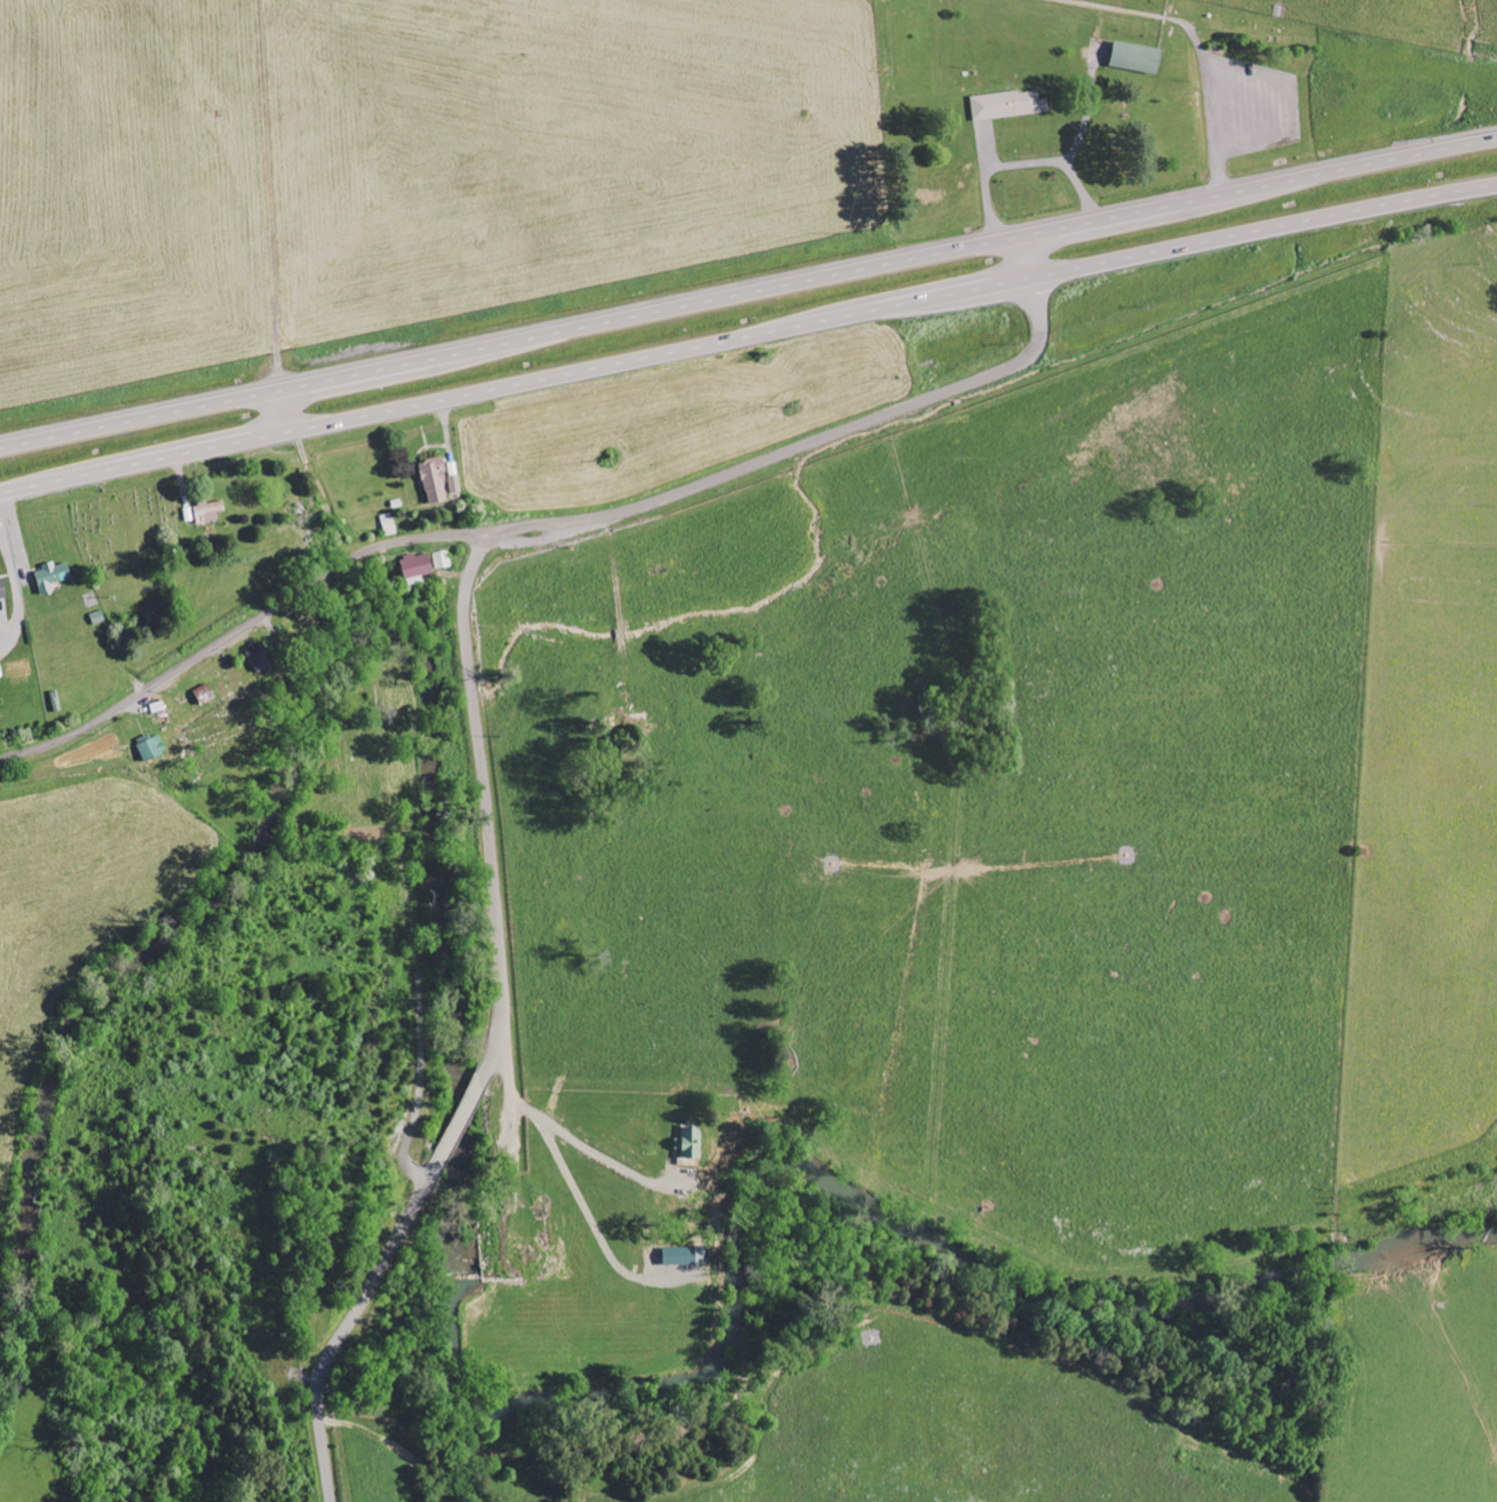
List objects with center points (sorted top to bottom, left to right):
road: (1118, 10)
road: (1210, 102)
parking lot: (1250, 104)
road: (269, 195)
road: (748, 293)
road: (748, 336)
road: (278, 412)
road: (562, 523)
road: (416, 982)
road: (498, 1035)
road: (558, 1130)

